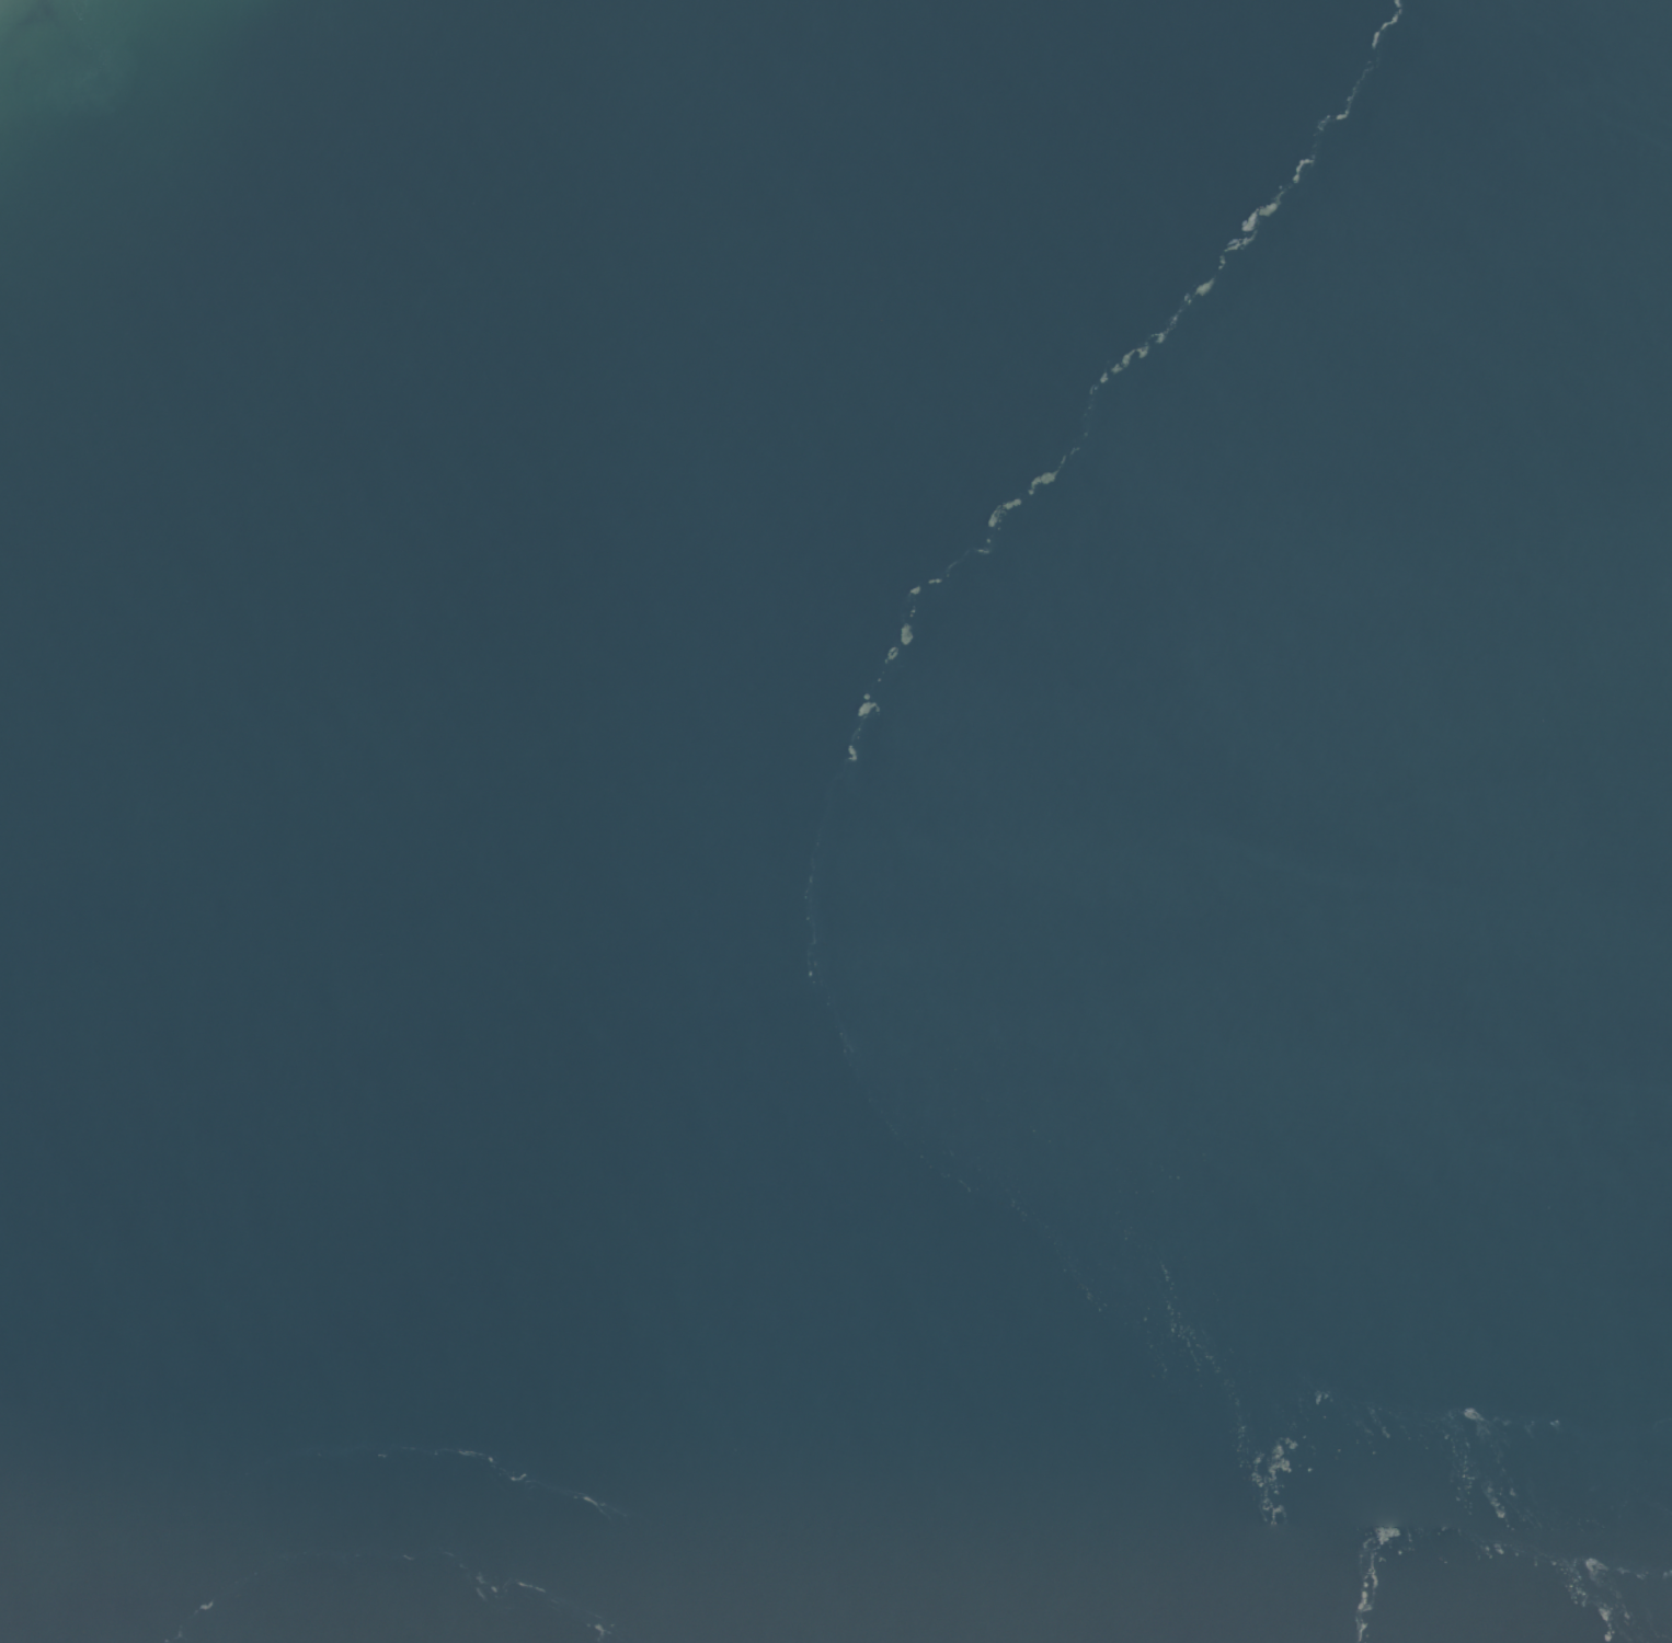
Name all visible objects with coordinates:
airport: (21, 10)

